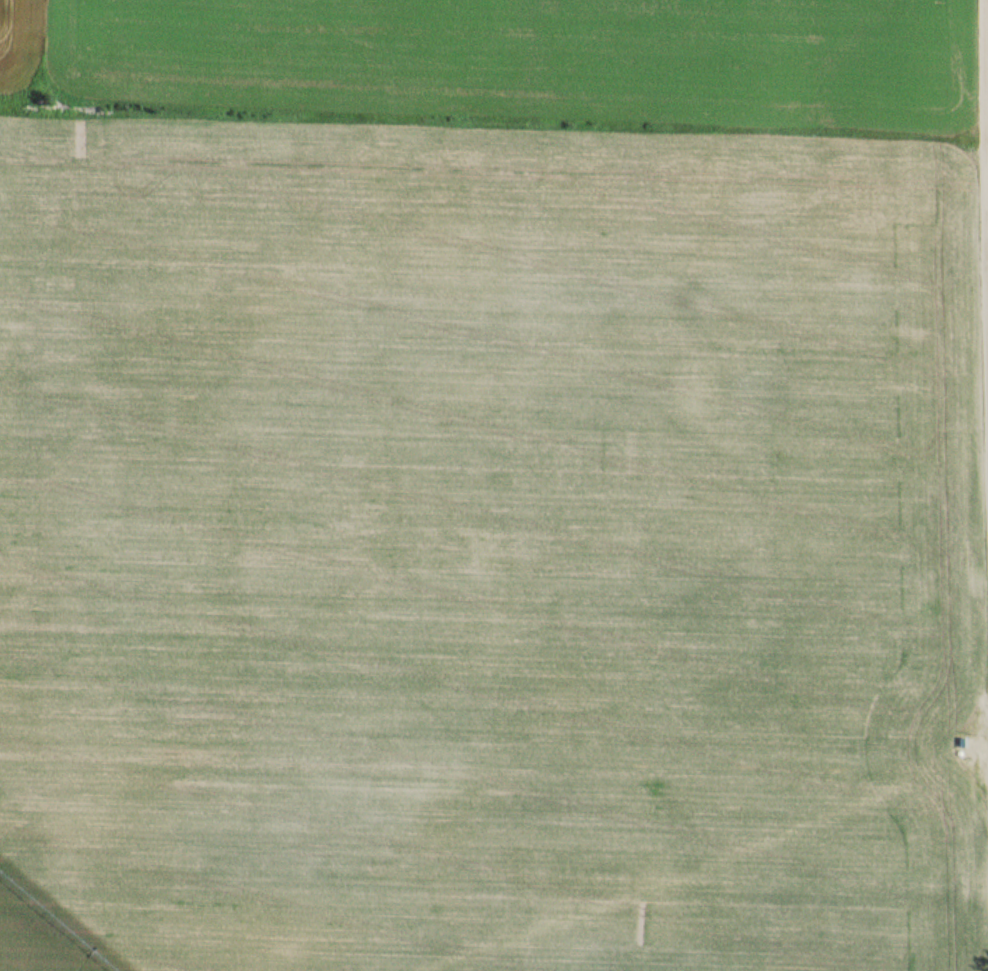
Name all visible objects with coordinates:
road: (984, 160)

